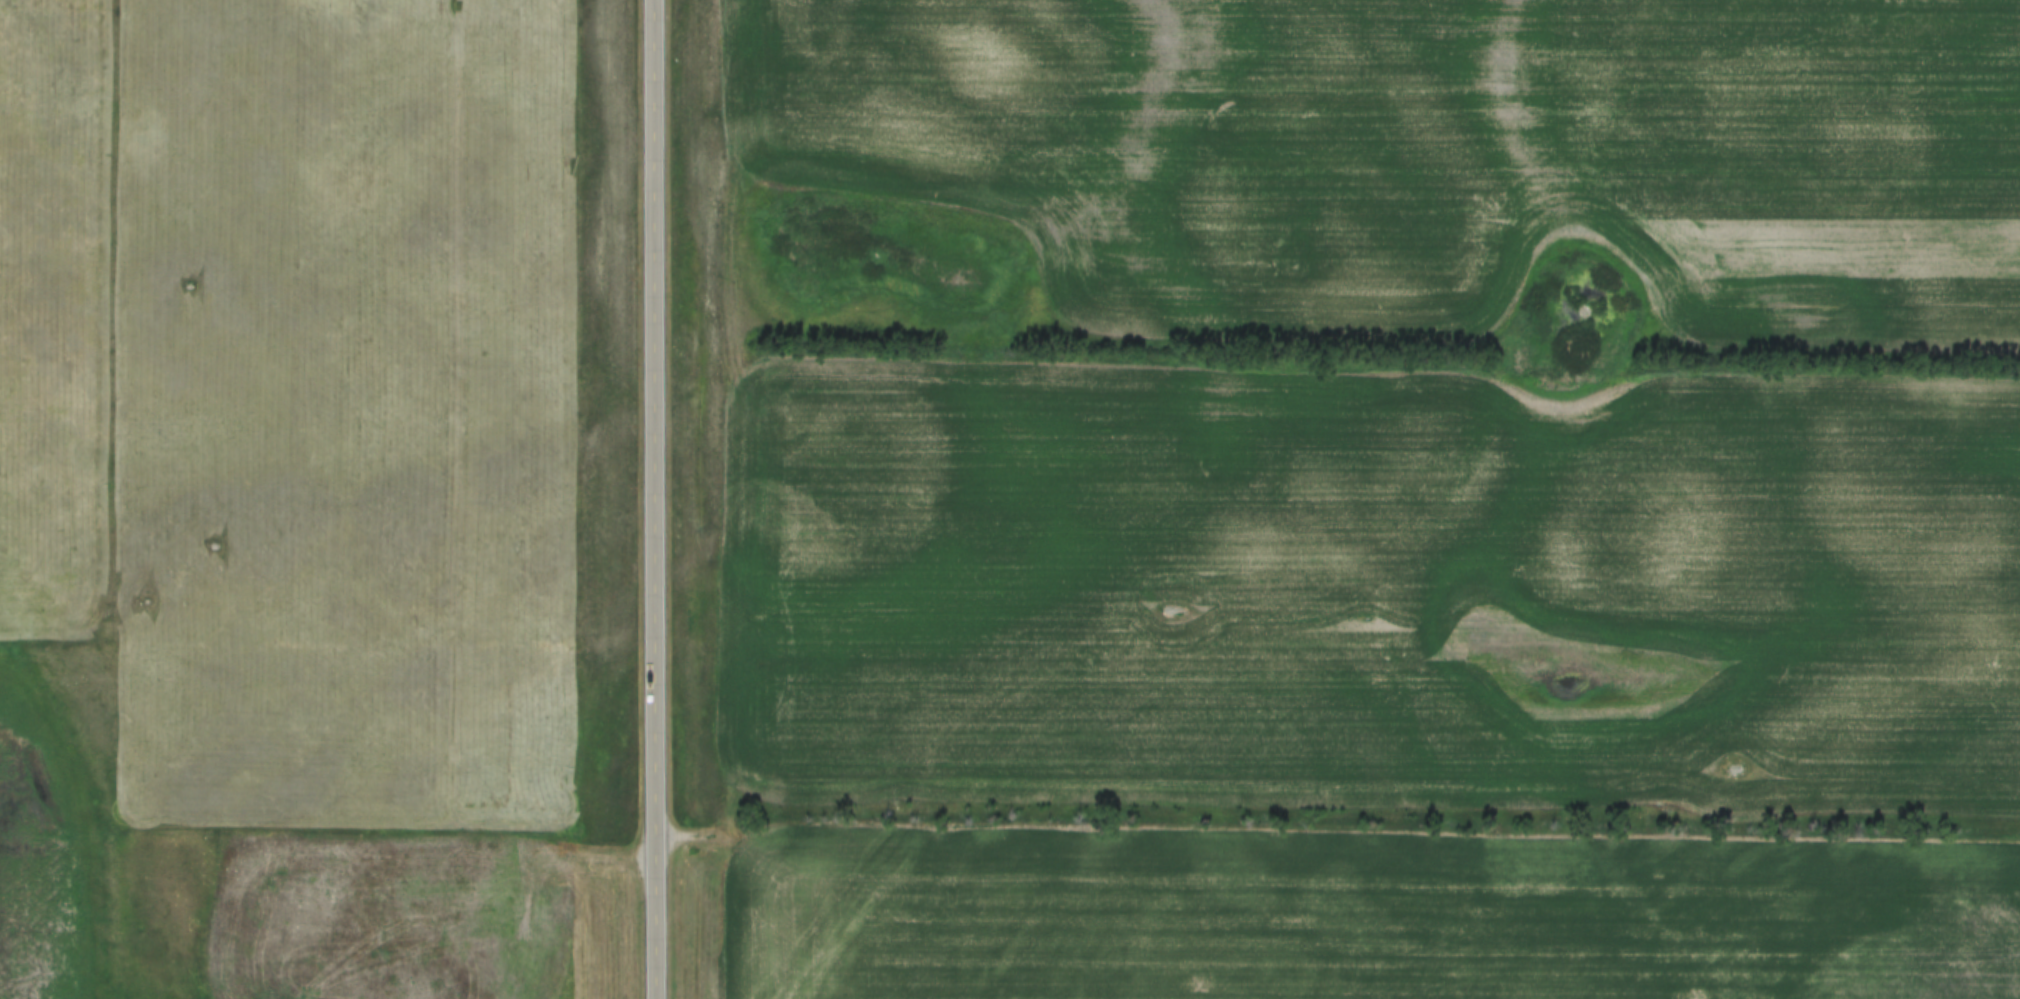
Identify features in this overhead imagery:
road: (656, 499)

